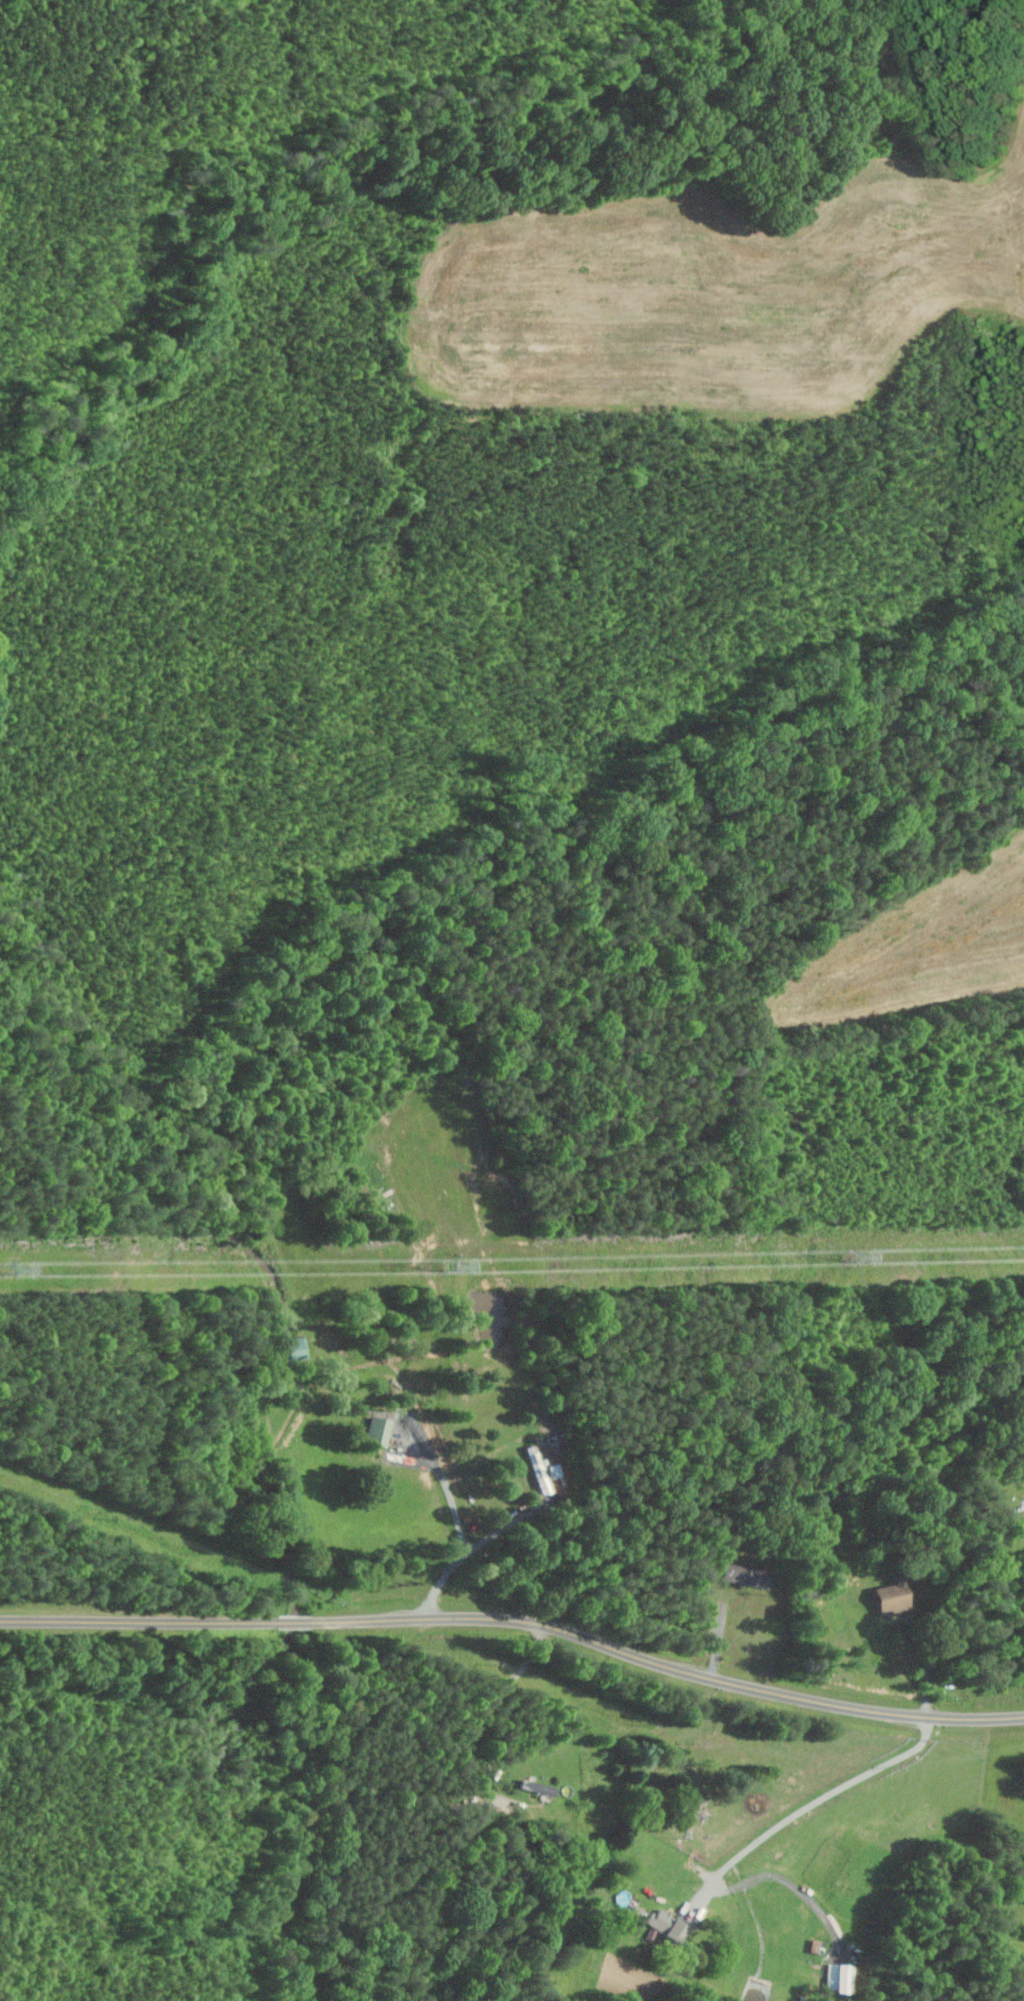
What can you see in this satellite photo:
power tower: (856, 1258)
power tower: (451, 1265)
power tower: (37, 1270)
building: (293, 1347)
building: (378, 1429)
road: (521, 1515)
road: (461, 1527)
building: (1015, 1530)
building: (746, 1574)
building: (893, 1596)
road: (136, 1614)
road: (294, 1621)
road: (668, 1663)
road: (932, 1669)
road: (480, 1711)
road: (804, 1807)
road: (784, 1876)
building: (667, 1924)
building: (840, 1977)

